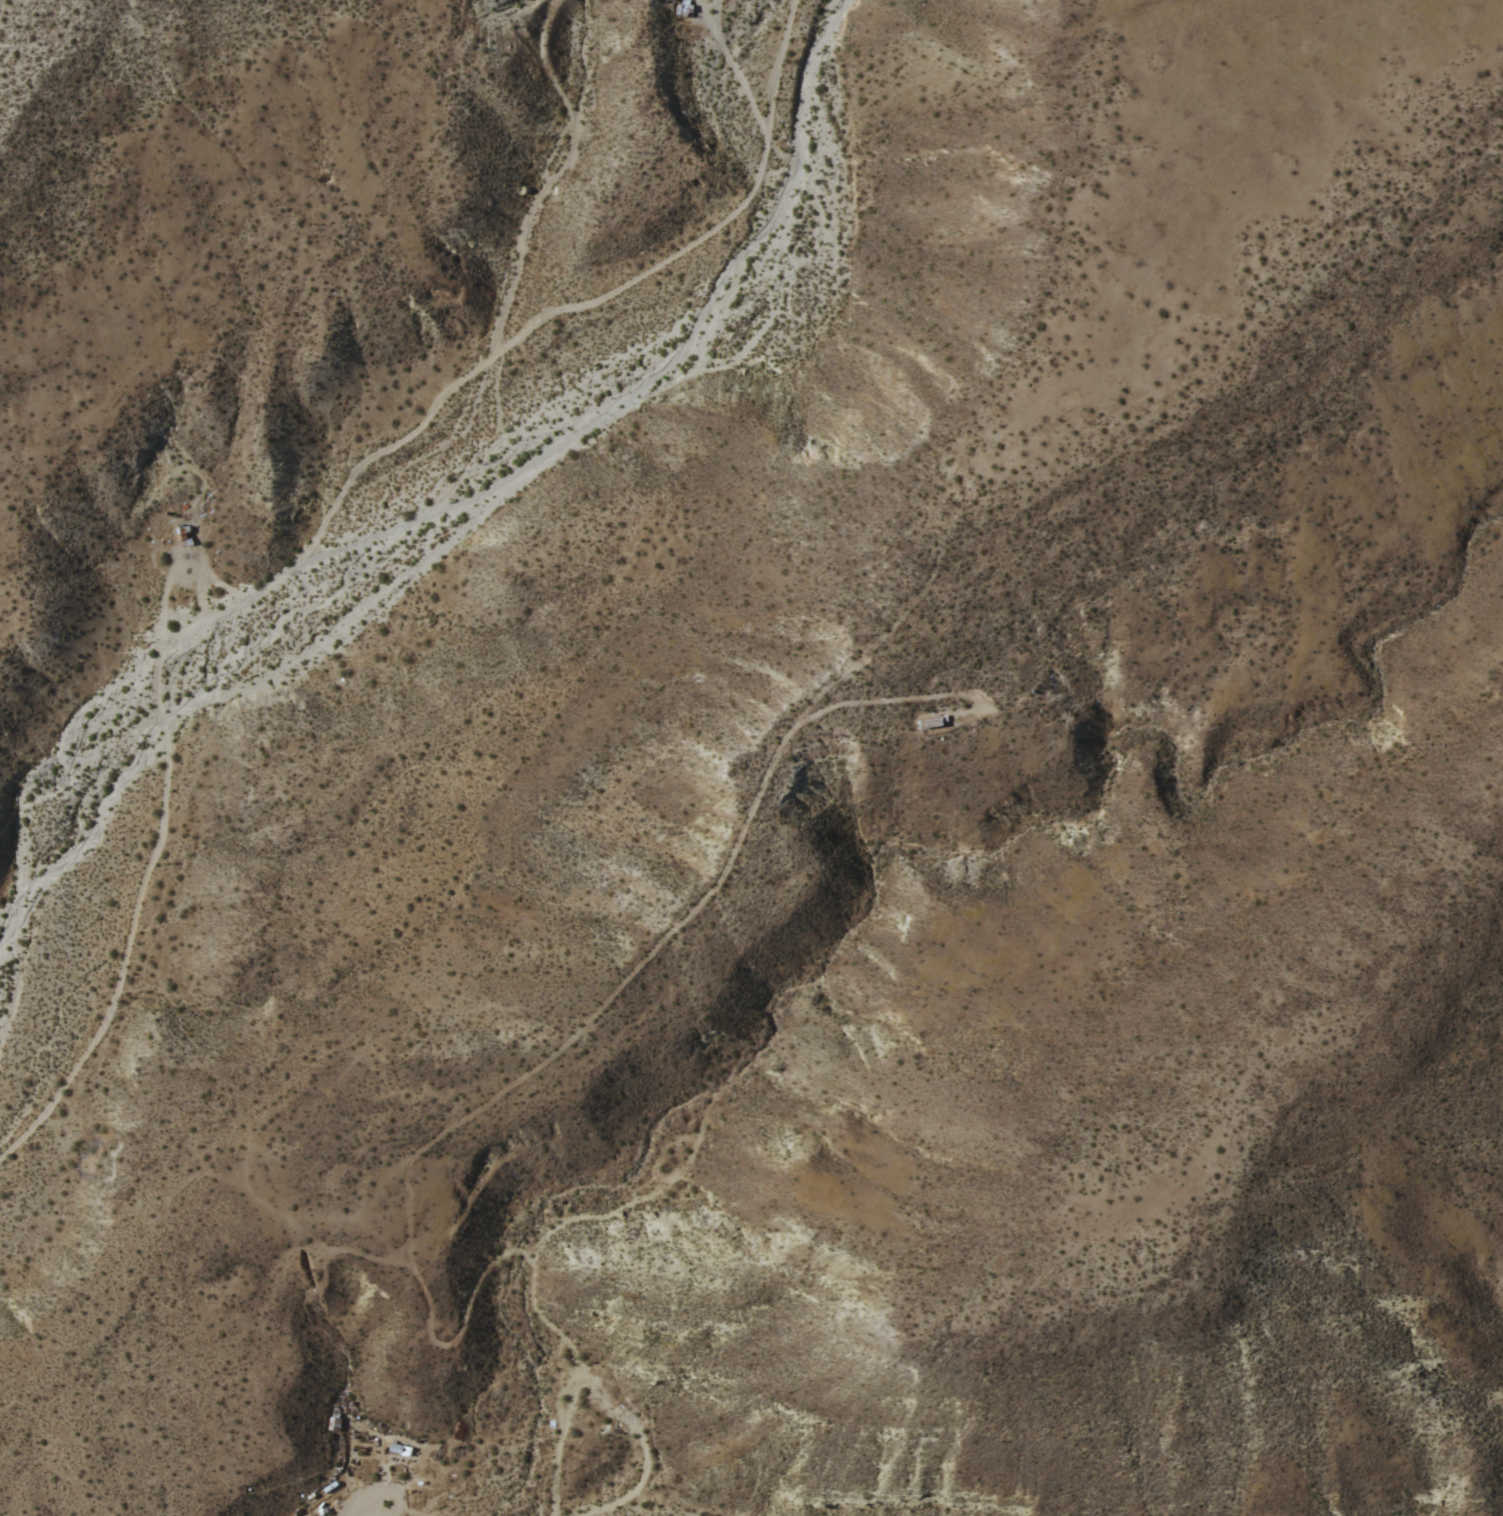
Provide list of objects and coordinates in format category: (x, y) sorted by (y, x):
building: (684, 6)
road: (737, 72)
road: (678, 110)
road: (323, 521)

